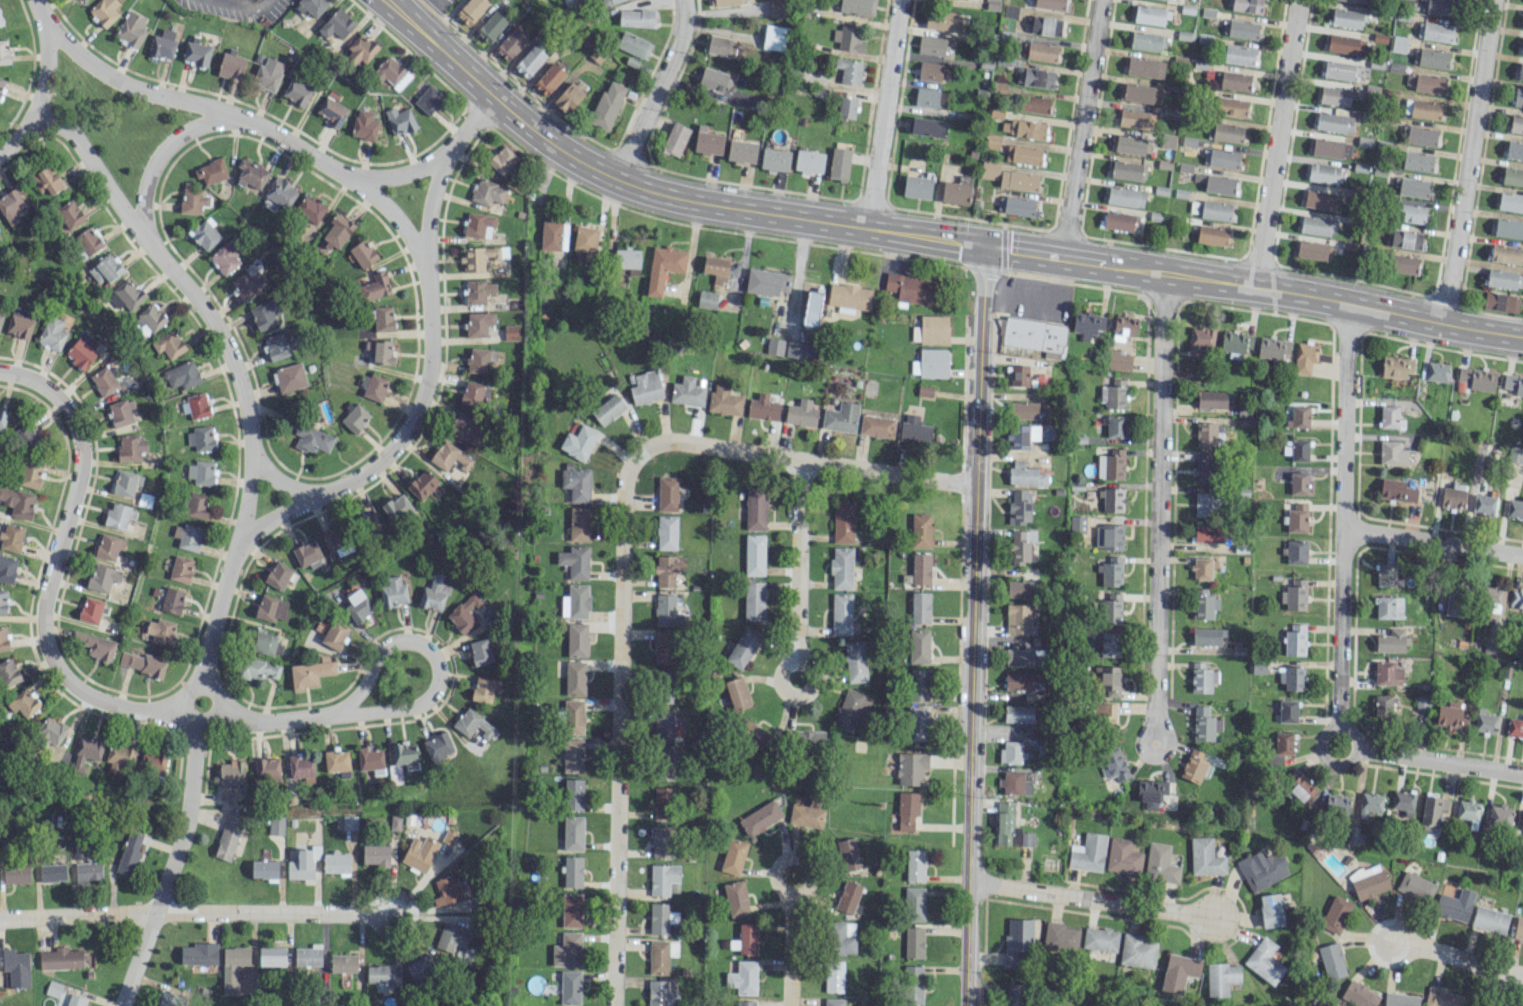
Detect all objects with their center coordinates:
building: (76, 0)
building: (608, 1)
building: (1357, 1)
road: (262, 2)
building: (724, 2)
building: (992, 4)
building: (1050, 4)
road: (235, 5)
building: (1244, 5)
building: (857, 7)
building: (1437, 7)
building: (471, 10)
building: (105, 11)
building: (1010, 11)
building: (1150, 15)
building: (636, 18)
building: (1347, 18)
building: (1, 20)
building: (943, 20)
building: (336, 24)
building: (491, 26)
building: (1045, 26)
building: (1240, 28)
building: (776, 29)
building: (131, 30)
building: (1434, 31)
building: (847, 39)
building: (1146, 41)
building: (511, 43)
building: (162, 44)
building: (634, 44)
building: (1346, 44)
building: (931, 45)
building: (1522, 47)
building: (359, 50)
building: (1041, 51)
building: (4, 52)
building: (197, 52)
building: (1239, 55)
building: (1430, 57)
building: (530, 61)
building: (231, 64)
building: (1144, 67)
building: (1338, 70)
building: (849, 71)
building: (929, 71)
building: (1520, 72)
building: (391, 73)
building: (268, 74)
building: (1034, 77)
building: (549, 78)
building: (713, 80)
building: (1233, 80)
building: (2, 83)
building: (1430, 83)
building: (999, 88)
road: (657, 91)
building: (297, 92)
building: (1141, 93)
building: (1334, 95)
building: (568, 97)
building: (926, 97)
building: (1518, 97)
building: (429, 99)
building: (1034, 103)
building: (607, 105)
building: (1230, 106)
building: (846, 107)
building: (1425, 109)
building: (331, 111)
road: (885, 114)
road: (230, 115)
building: (1133, 118)
building: (400, 120)
building: (1334, 122)
building: (1516, 123)
building: (364, 125)
building: (928, 127)
building: (1023, 128)
road: (1081, 128)
building: (1224, 132)
road: (20, 133)
building: (1419, 135)
building: (675, 139)
building: (1167, 140)
building: (708, 141)
building: (992, 141)
road: (1276, 143)
building: (1132, 144)
building: (1331, 148)
building: (1514, 150)
building: (741, 151)
building: (1023, 155)
road: (158, 156)
building: (1221, 158)
building: (502, 159)
building: (775, 159)
building: (809, 161)
building: (1417, 161)
road: (1467, 161)
road: (439, 162)
building: (839, 164)
building: (989, 169)
building: (1128, 170)
building: (211, 171)
building: (251, 173)
road: (398, 173)
building: (1324, 174)
building: (1512, 176)
building: (46, 179)
building: (1018, 180)
road: (542, 181)
building: (1219, 184)
building: (916, 187)
building: (1412, 187)
building: (956, 190)
building: (280, 192)
building: (487, 192)
building: (1125, 196)
building: (192, 199)
building: (1319, 199)
building: (1510, 202)
building: (1016, 205)
building: (11, 206)
building: (310, 209)
building: (1216, 210)
building: (1410, 213)
building: (70, 214)
building: (1120, 220)
building: (478, 225)
building: (1315, 225)
building: (1508, 228)
building: (337, 231)
building: (1210, 234)
building: (205, 235)
building: (553, 236)
road: (924, 236)
building: (0, 237)
building: (585, 238)
building: (1407, 239)
building: (88, 240)
traffic signals: (985, 245)
building: (1313, 250)
building: (363, 253)
building: (1506, 254)
building: (225, 258)
building: (477, 258)
building: (628, 259)
building: (1402, 263)
building: (663, 267)
building: (105, 269)
building: (715, 269)
building: (1504, 279)
building: (767, 282)
building: (248, 284)
building: (375, 286)
building: (911, 288)
building: (478, 291)
building: (126, 295)
building: (849, 297)
building: (706, 299)
road: (1037, 299)
building: (1500, 301)
building: (811, 308)
building: (264, 313)
building: (0, 314)
building: (383, 318)
building: (149, 319)
building: (20, 322)
building: (478, 323)
building: (1087, 323)
building: (1124, 325)
building: (934, 329)
road: (217, 331)
building: (511, 332)
building: (52, 334)
building: (1035, 336)
building: (87, 338)
building: (1199, 340)
building: (1236, 343)
building: (169, 344)
building: (277, 346)
building: (774, 346)
building: (1272, 348)
building: (795, 349)
building: (380, 350)
building: (80, 353)
building: (1304, 357)
building: (477, 360)
building: (1117, 360)
building: (931, 363)
building: (1397, 366)
building: (1437, 371)
building: (182, 375)
building: (1019, 375)
building: (289, 377)
building: (1477, 378)
building: (104, 381)
building: (1514, 384)
building: (373, 386)
building: (646, 387)
building: (926, 391)
building: (687, 392)
building: (472, 394)
building: (1113, 395)
building: (1214, 399)
building: (724, 400)
building: (195, 406)
building: (762, 407)
building: (608, 409)
building: (1024, 410)
building: (122, 412)
building: (801, 413)
building: (1299, 416)
building: (1388, 416)
building: (841, 417)
building: (354, 418)
building: (3, 419)
building: (877, 426)
building: (1115, 426)
building: (464, 427)
building: (914, 429)
building: (1205, 434)
road: (400, 435)
building: (1022, 435)
building: (25, 437)
building: (203, 438)
building: (312, 439)
building: (578, 442)
building: (131, 448)
building: (1296, 449)
building: (1392, 453)
building: (1515, 454)
building: (450, 456)
road: (816, 461)
building: (1111, 464)
building: (1204, 467)
building: (200, 472)
building: (30, 474)
building: (1025, 474)
road: (276, 478)
building: (576, 482)
building: (125, 483)
building: (1298, 483)
building: (422, 484)
building: (1396, 490)
building: (667, 493)
building: (1453, 496)
building: (1112, 500)
building: (18, 501)
road: (1160, 501)
building: (196, 504)
building: (1206, 504)
building: (1484, 504)
building: (1019, 507)
building: (1514, 508)
building: (397, 509)
building: (755, 509)
building: (119, 515)
building: (1296, 518)
building: (844, 522)
building: (369, 523)
building: (579, 524)
road: (1345, 529)
building: (921, 530)
building: (666, 532)
building: (1208, 533)
building: (187, 536)
building: (1108, 536)
building: (11, 537)
building: (335, 540)
road: (1434, 540)
building: (109, 546)
building: (1021, 546)
building: (1295, 551)
building: (307, 554)
building: (754, 554)
road: (798, 558)
building: (575, 562)
road: (52, 566)
building: (1203, 567)
building: (7, 568)
building: (181, 568)
building: (841, 568)
building: (922, 569)
building: (668, 570)
building: (1110, 571)
building: (1385, 574)
building: (278, 575)
building: (103, 577)
building: (1020, 588)
building: (393, 592)
building: (433, 593)
building: (1294, 595)
building: (1491, 599)
building: (1516, 599)
building: (172, 600)
building: (754, 600)
building: (3, 601)
building: (575, 602)
building: (1203, 604)
building: (358, 605)
building: (1451, 605)
building: (920, 607)
building: (1388, 607)
building: (271, 608)
building: (1111, 608)
building: (90, 610)
building: (666, 610)
building: (464, 612)
building: (842, 613)
building: (1017, 618)
road: (973, 625)
building: (160, 631)
building: (334, 635)
building: (1207, 636)
building: (3, 638)
building: (577, 639)
building: (1295, 640)
building: (1391, 641)
building: (266, 642)
building: (1110, 644)
building: (96, 645)
building: (918, 646)
building: (664, 648)
building: (743, 648)
building: (480, 651)
building: (1018, 657)
building: (855, 661)
building: (141, 663)
building: (257, 668)
building: (8, 673)
building: (309, 673)
building: (1387, 673)
building: (1202, 677)
building: (575, 678)
building: (1292, 678)
building: (1108, 680)
building: (1018, 681)
building: (919, 684)
building: (664, 686)
building: (483, 689)
building: (737, 693)
road: (792, 694)
building: (23, 703)
road: (417, 704)
building: (1383, 705)
road: (184, 708)
building: (851, 708)
building: (1287, 711)
building: (1018, 713)
road: (617, 715)
building: (1104, 715)
building: (1451, 715)
building: (573, 716)
building: (1485, 721)
building: (474, 723)
building: (916, 723)
building: (663, 724)
building: (1204, 724)
building: (1515, 727)
building: (51, 730)
building: (754, 734)
building: (809, 739)
building: (437, 747)
building: (1281, 747)
building: (86, 751)
building: (1012, 752)
road: (1148, 754)
building: (404, 755)
building: (572, 755)
road: (1322, 755)
building: (119, 757)
building: (371, 759)
building: (155, 760)
road: (1442, 760)
building: (337, 762)
building: (663, 763)
building: (1113, 764)
building: (1193, 766)
building: (911, 768)
building: (302, 769)
building: (267, 770)
building: (230, 778)
building: (1017, 782)
building: (1300, 786)
building: (1150, 793)
building: (573, 794)
building: (1403, 801)
building: (663, 802)
building: (1336, 805)
building: (1370, 806)
building: (1467, 809)
building: (907, 810)
building: (1432, 811)
building: (807, 814)
building: (760, 817)
building: (1499, 817)
building: (1522, 820)
building: (349, 822)
building: (1006, 824)
building: (276, 825)
building: (573, 833)
building: (228, 834)
building: (1026, 839)
building: (661, 841)
building: (1088, 852)
building: (419, 853)
building: (129, 854)
building: (376, 854)
building: (848, 854)
building: (733, 856)
building: (1122, 856)
road: (792, 857)
building: (1206, 857)
building: (336, 863)
building: (1160, 863)
road: (168, 864)
building: (915, 865)
building: (264, 869)
building: (1261, 869)
building: (52, 872)
building: (87, 872)
building: (572, 872)
building: (16, 874)
building: (662, 878)
building: (1368, 881)
building: (1415, 886)
building: (447, 890)
building: (848, 897)
building: (736, 898)
road: (1092, 899)
building: (914, 903)
building: (1454, 905)
road: (191, 909)
building: (571, 910)
building: (1270, 910)
building: (1335, 914)
building: (661, 918)
building: (1490, 919)
building: (1061, 936)
building: (451, 937)
building: (842, 937)
road: (1372, 937)
building: (1100, 938)
building: (745, 939)
building: (913, 942)
building: (1017, 943)
building: (567, 950)
building: (1138, 951)
road: (790, 952)
building: (199, 953)
building: (308, 955)
building: (661, 955)
building: (271, 956)
building: (61, 958)
building: (1331, 960)
road: (1464, 960)
building: (1264, 961)
building: (343, 963)
building: (16, 967)
building: (233, 967)
building: (420, 967)
building: (1178, 972)
building: (379, 973)
building: (833, 976)
building: (743, 977)
building: (1221, 978)
building: (913, 985)
building: (570, 987)
road: (1494, 987)
building: (53, 988)
building: (662, 993)
building: (1016, 995)
building: (1359, 995)
building: (1442, 997)
building: (166, 999)
building: (1401, 999)
building: (75, 1000)
building: (834, 1001)
building: (746, 1003)

